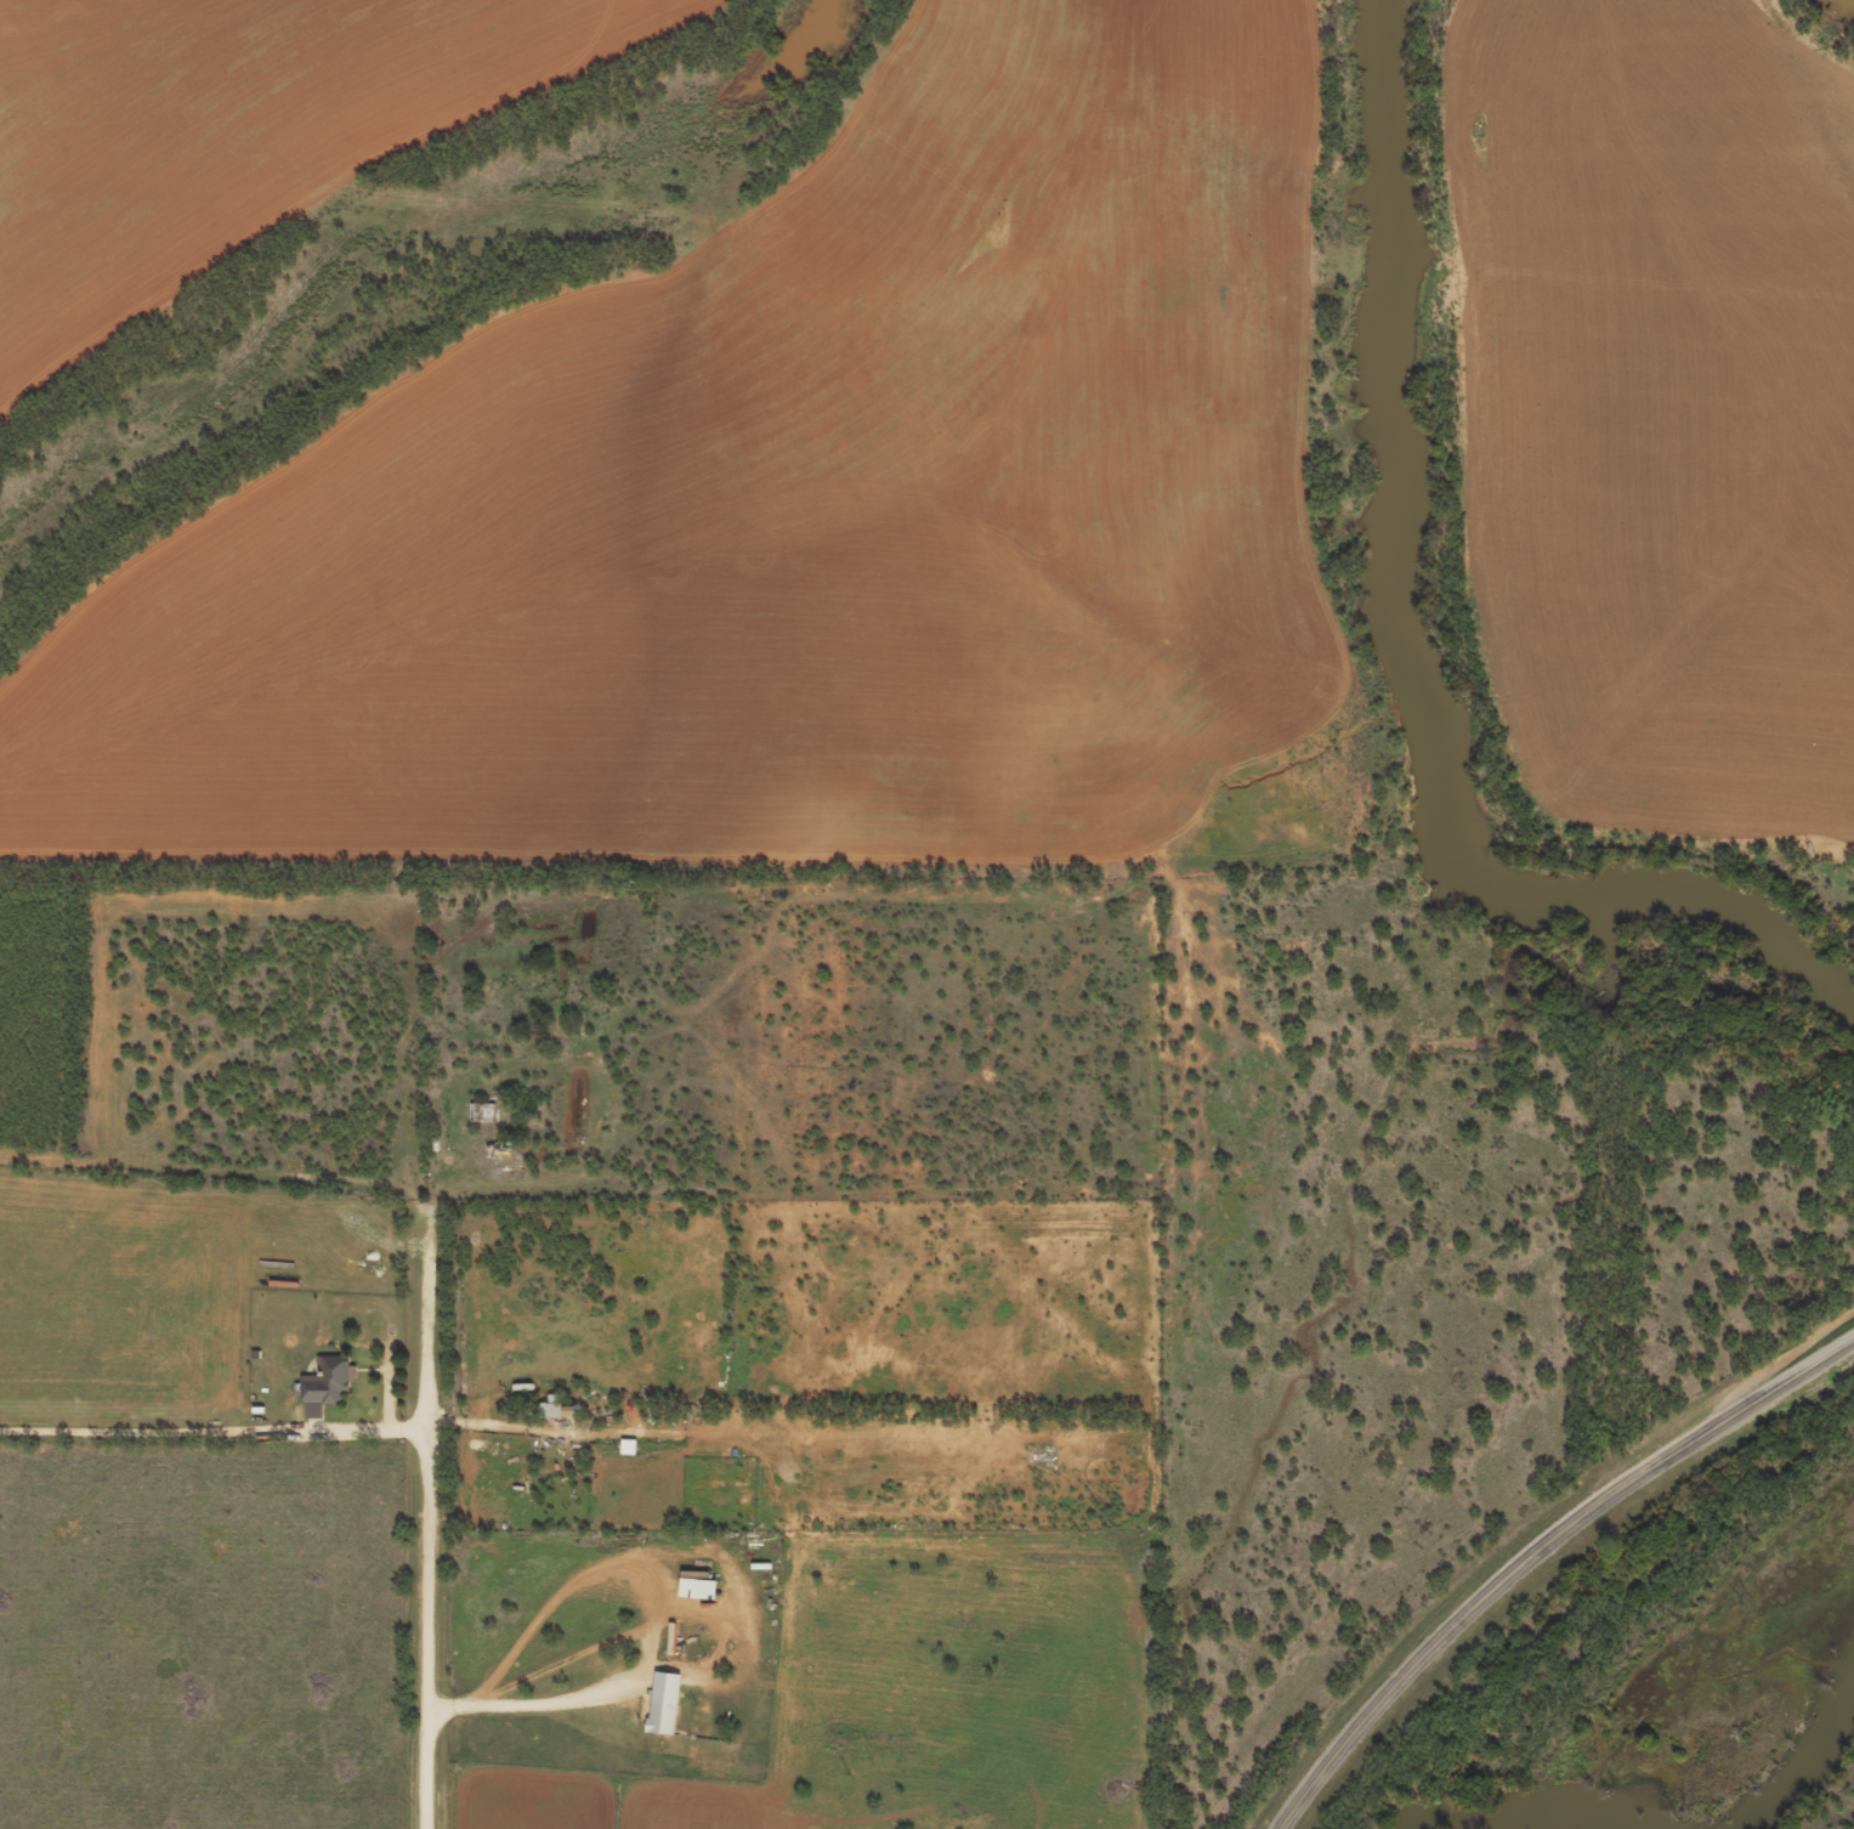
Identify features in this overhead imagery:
building: (327, 1385)
road: (1544, 1553)
road: (425, 1629)
building: (664, 1703)

